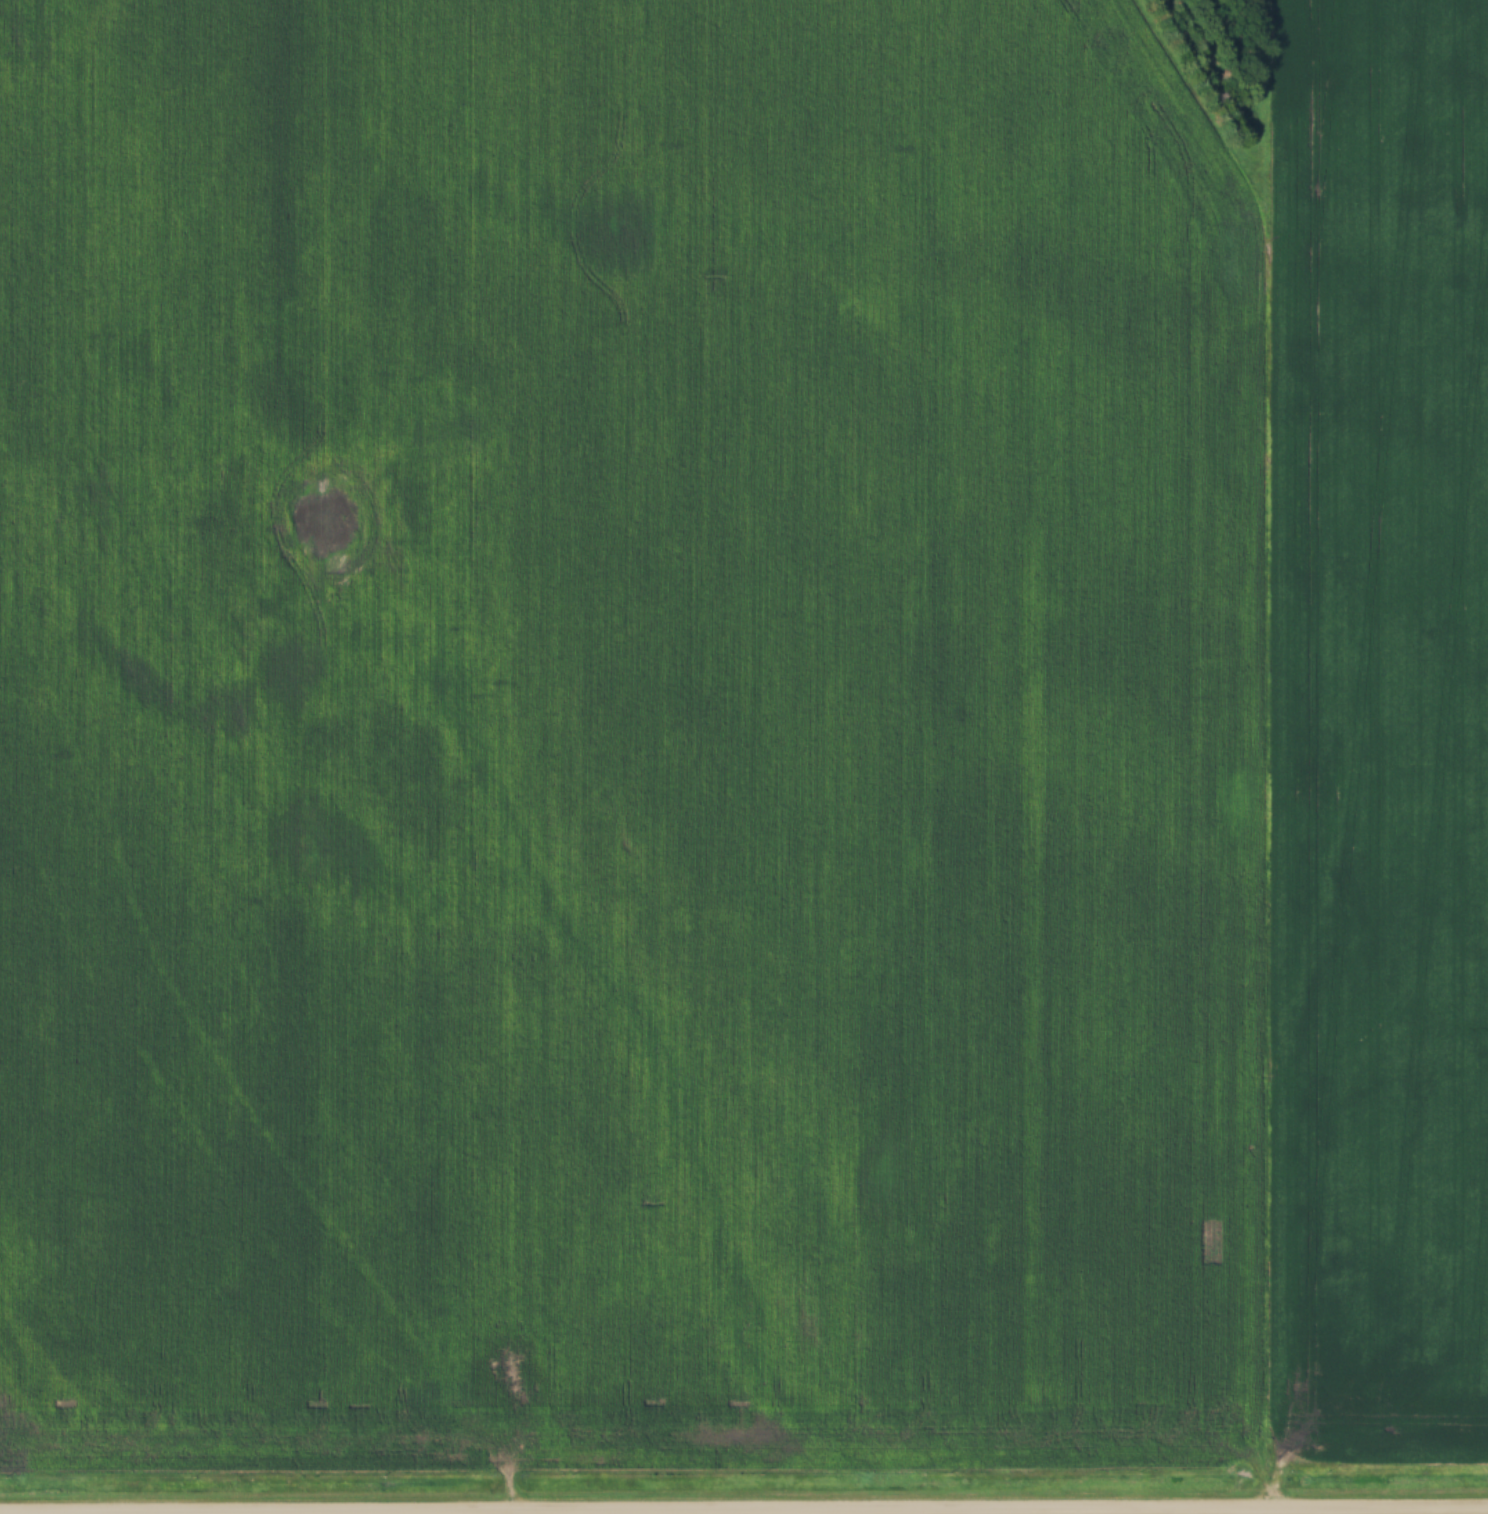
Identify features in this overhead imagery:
road: (1338, 1513)

